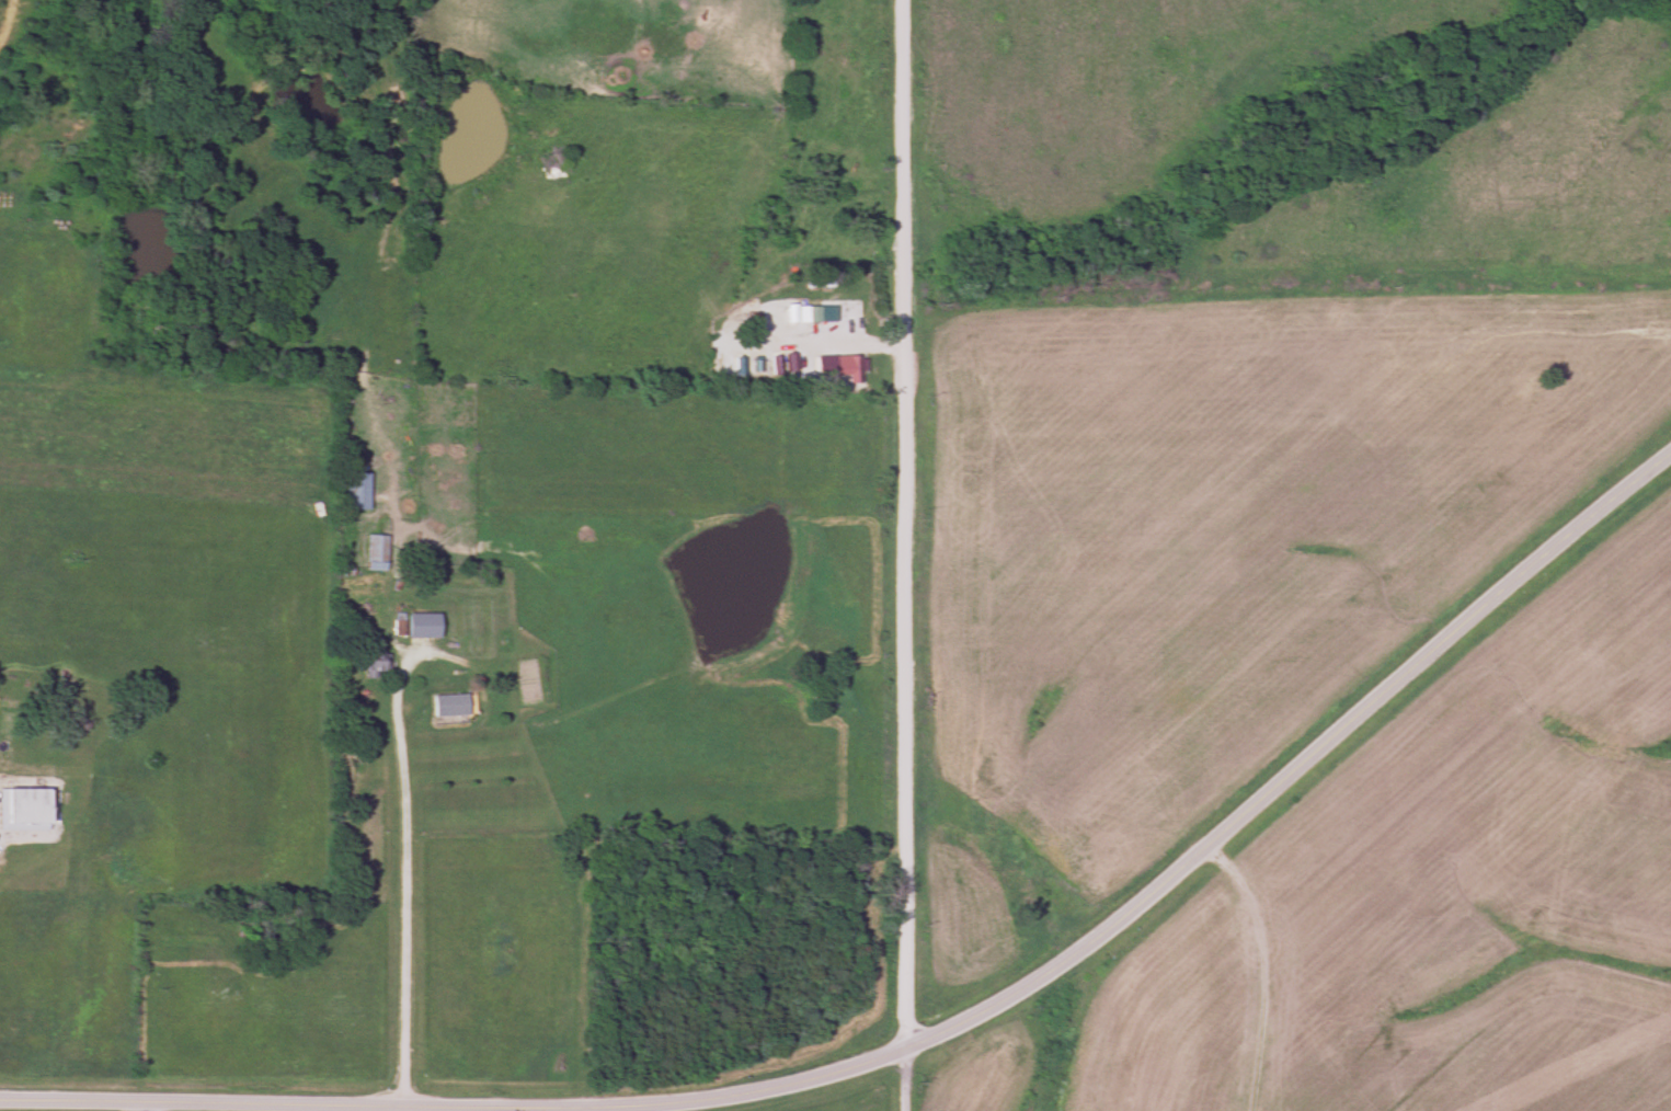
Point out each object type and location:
building: (809, 317)
building: (843, 367)
building: (352, 493)
building: (371, 552)
road: (905, 554)
building: (367, 663)
building: (444, 707)
building: (21, 806)
road: (1182, 867)
road: (404, 882)
road: (264, 1104)
road: (145, 1107)
road: (407, 1110)

